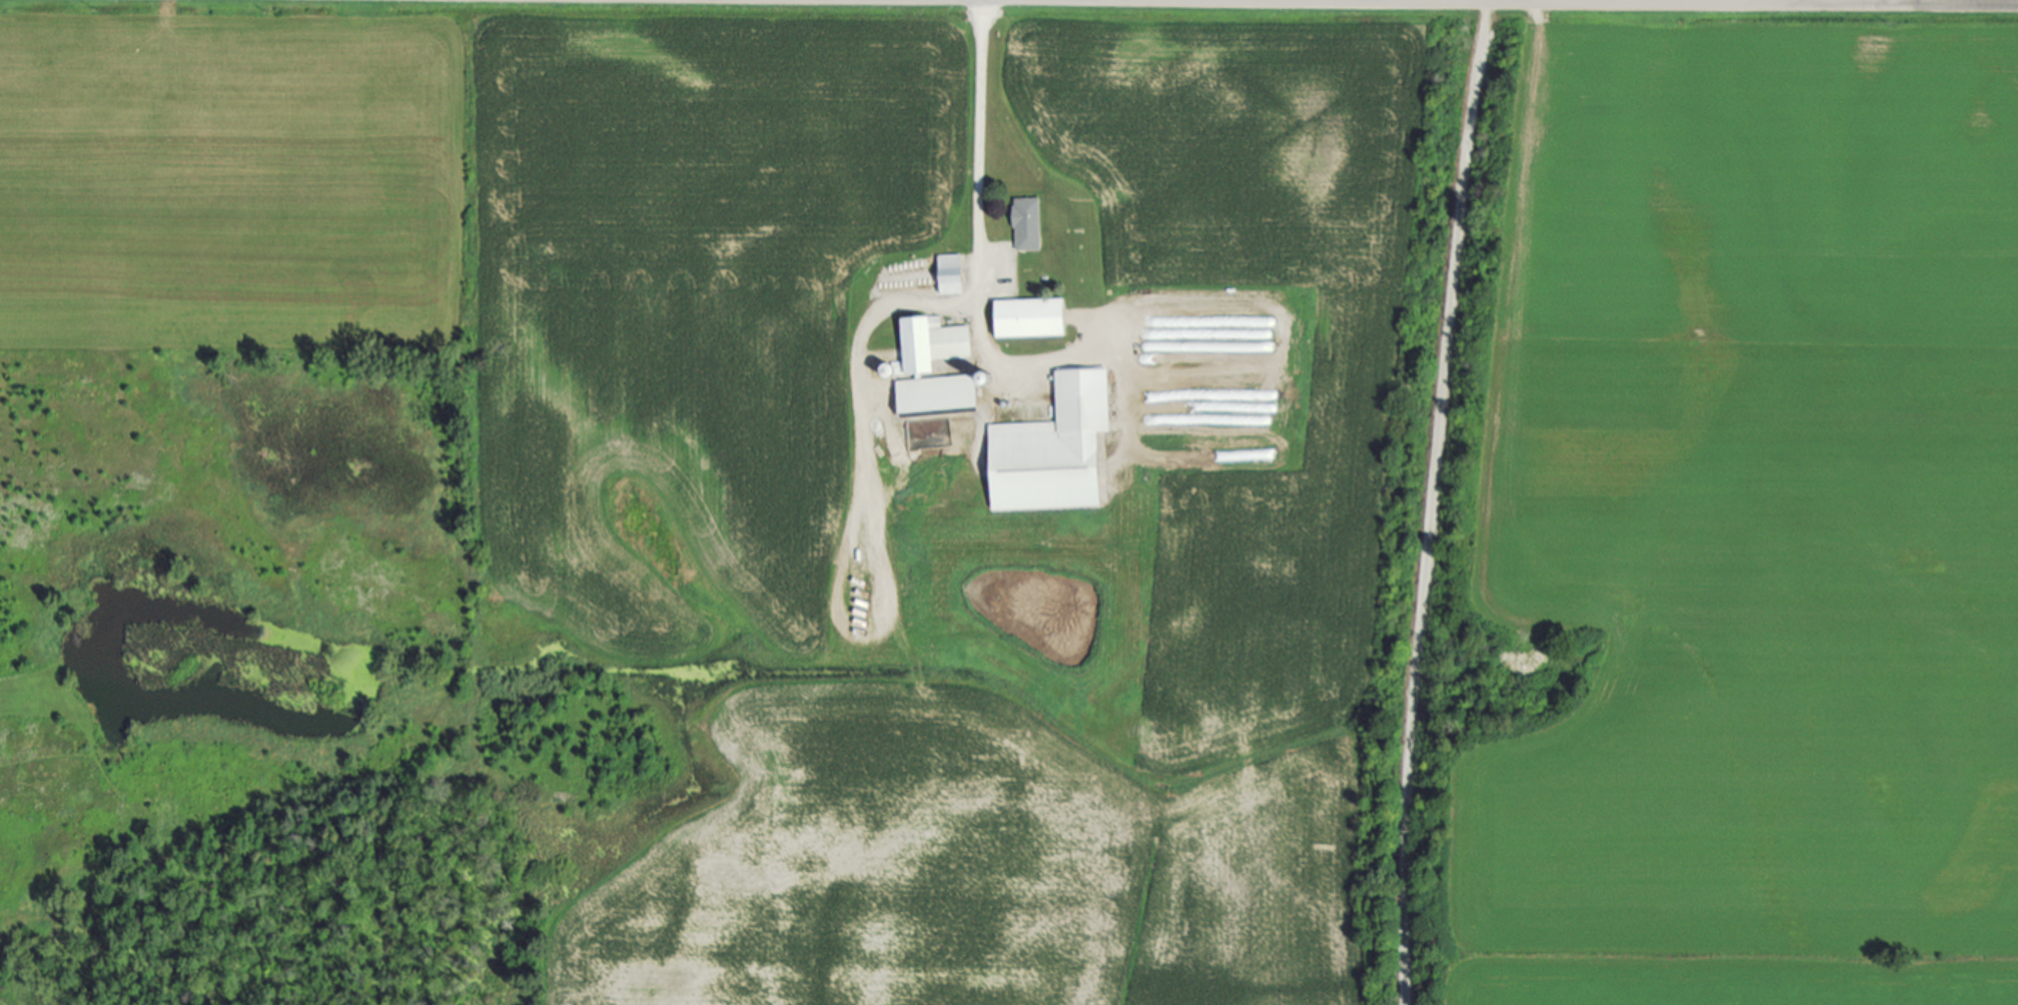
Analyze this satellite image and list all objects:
road: (1747, 0)
road: (1910, 0)
building: (1030, 224)
road: (974, 245)
building: (953, 274)
building: (1033, 318)
building: (936, 344)
building: (942, 394)
building: (1059, 449)
road: (1429, 501)

